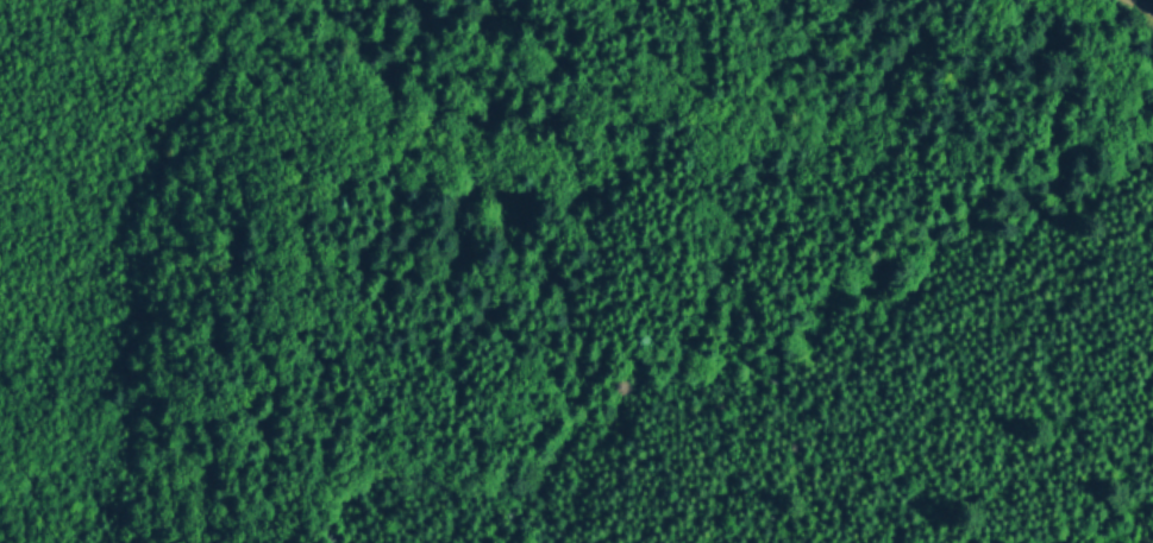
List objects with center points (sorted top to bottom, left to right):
road: (1140, 6)

